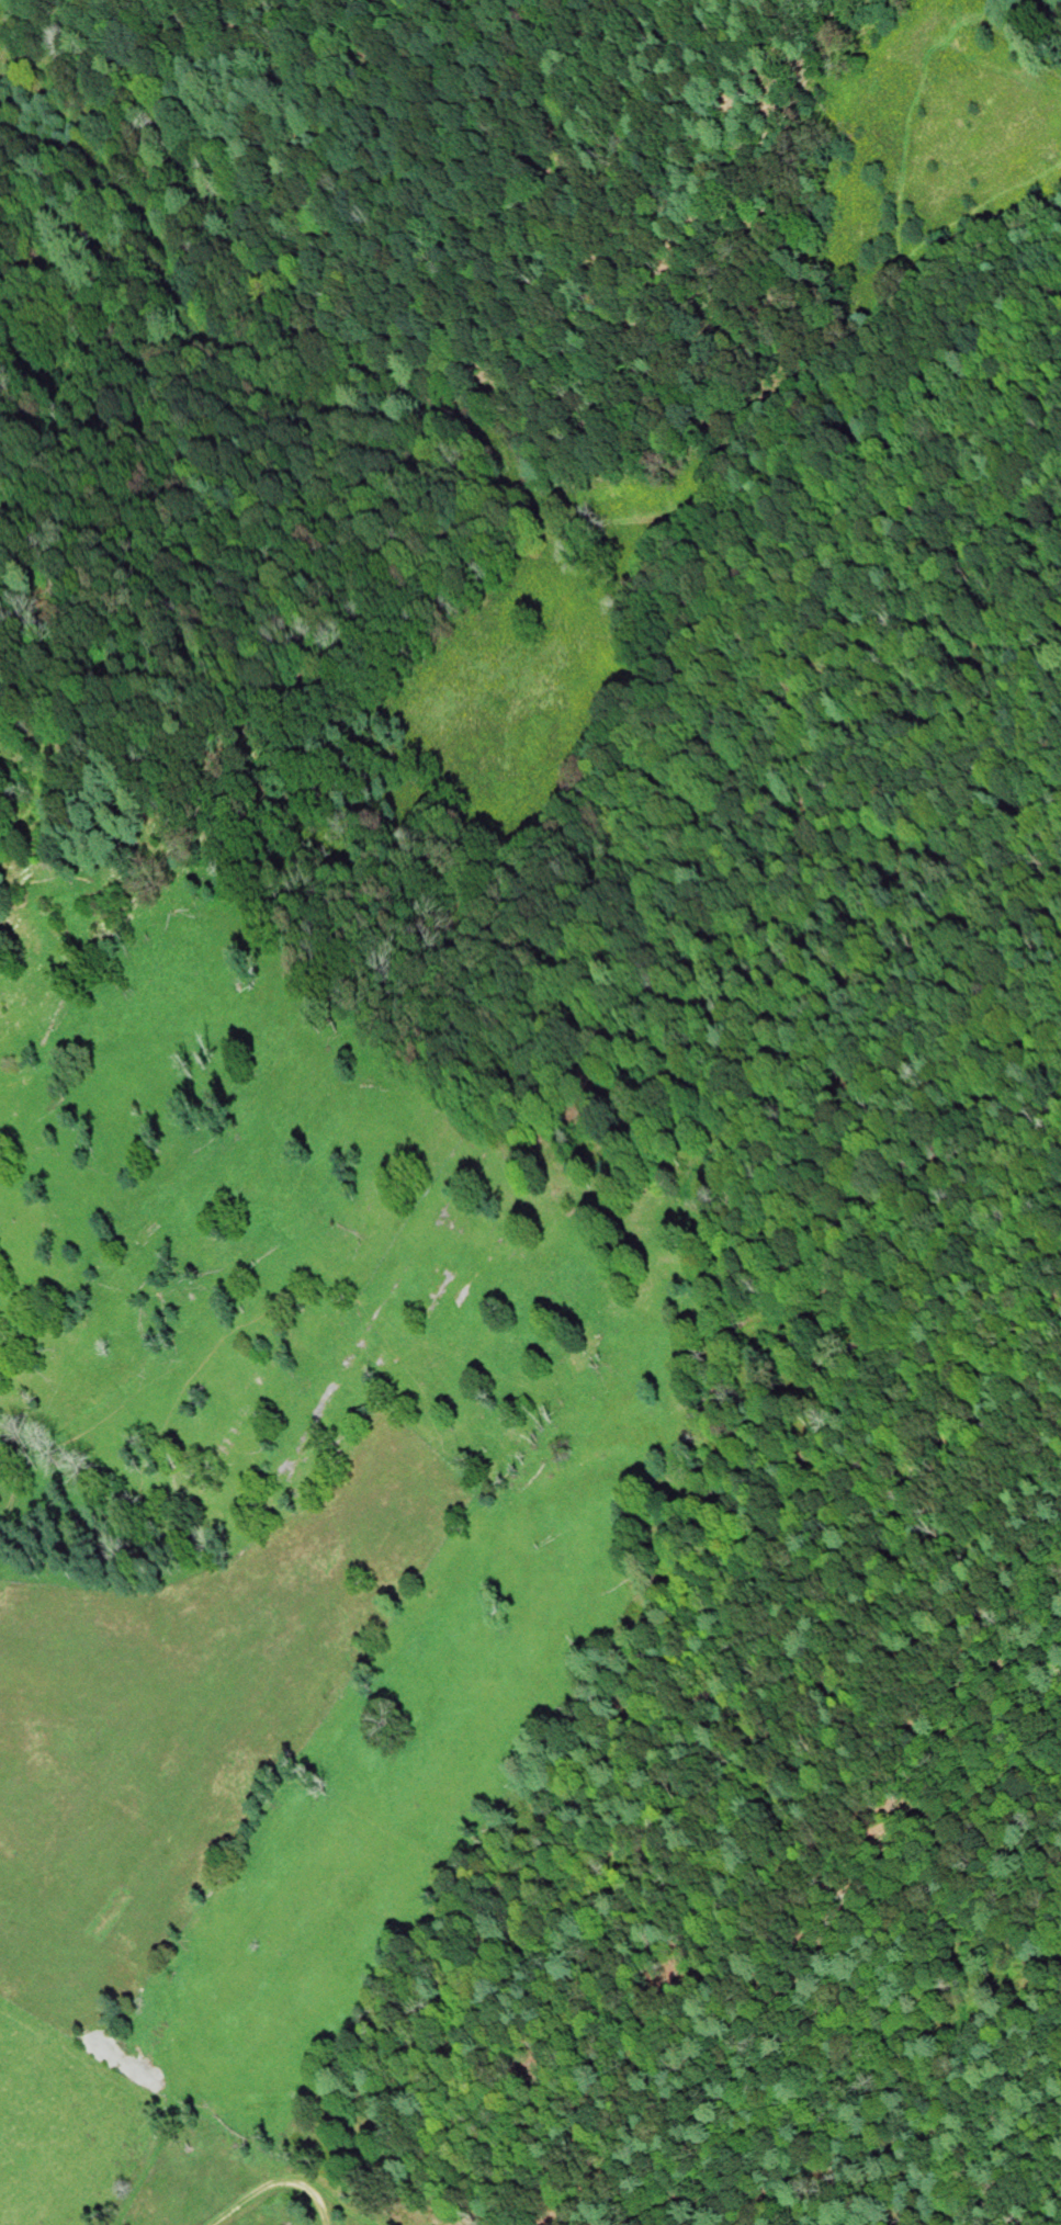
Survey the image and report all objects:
road: (273, 2180)

